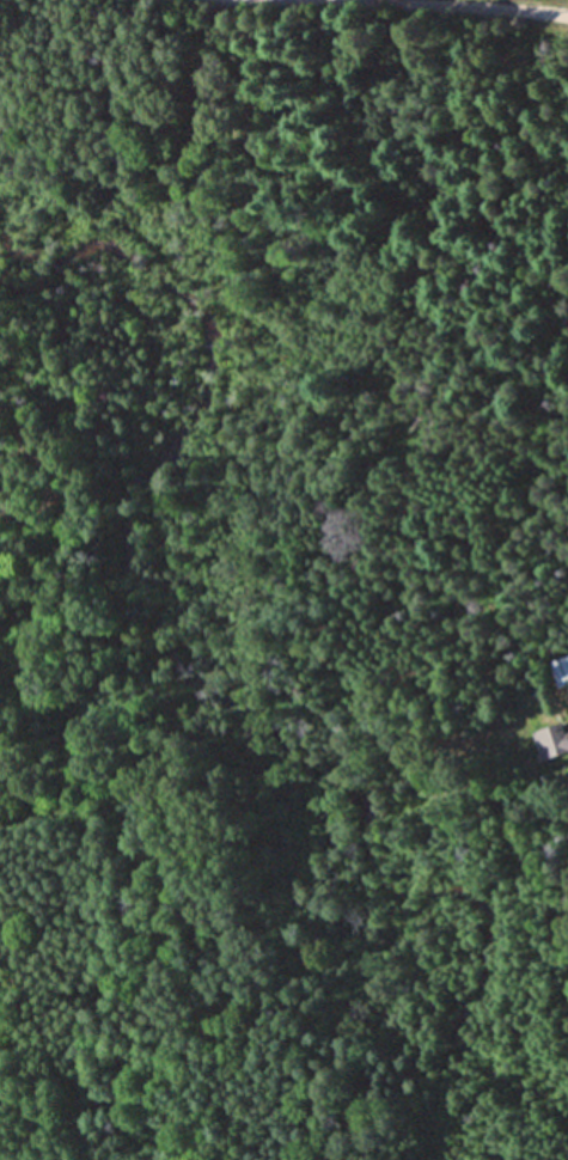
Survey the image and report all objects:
road: (377, 11)
building: (560, 672)
building: (551, 743)

